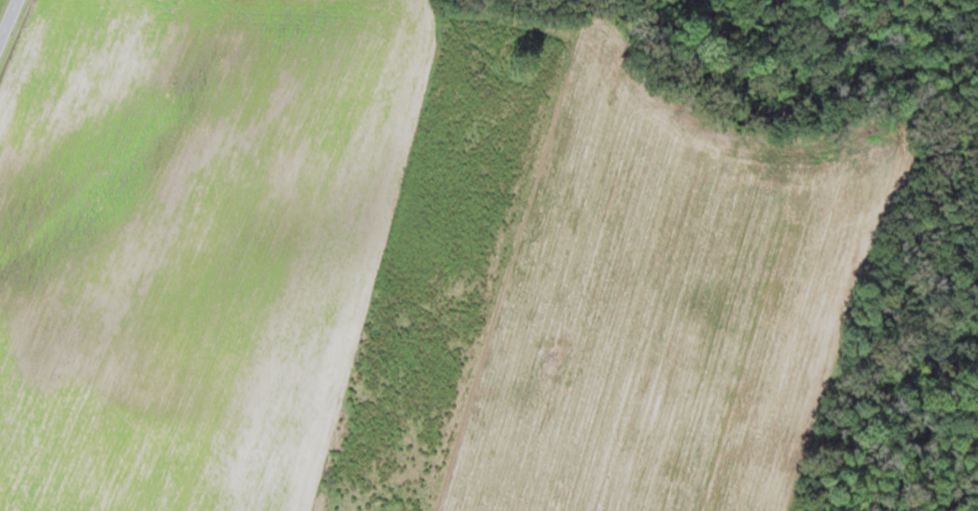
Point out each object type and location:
road: (6, 15)

